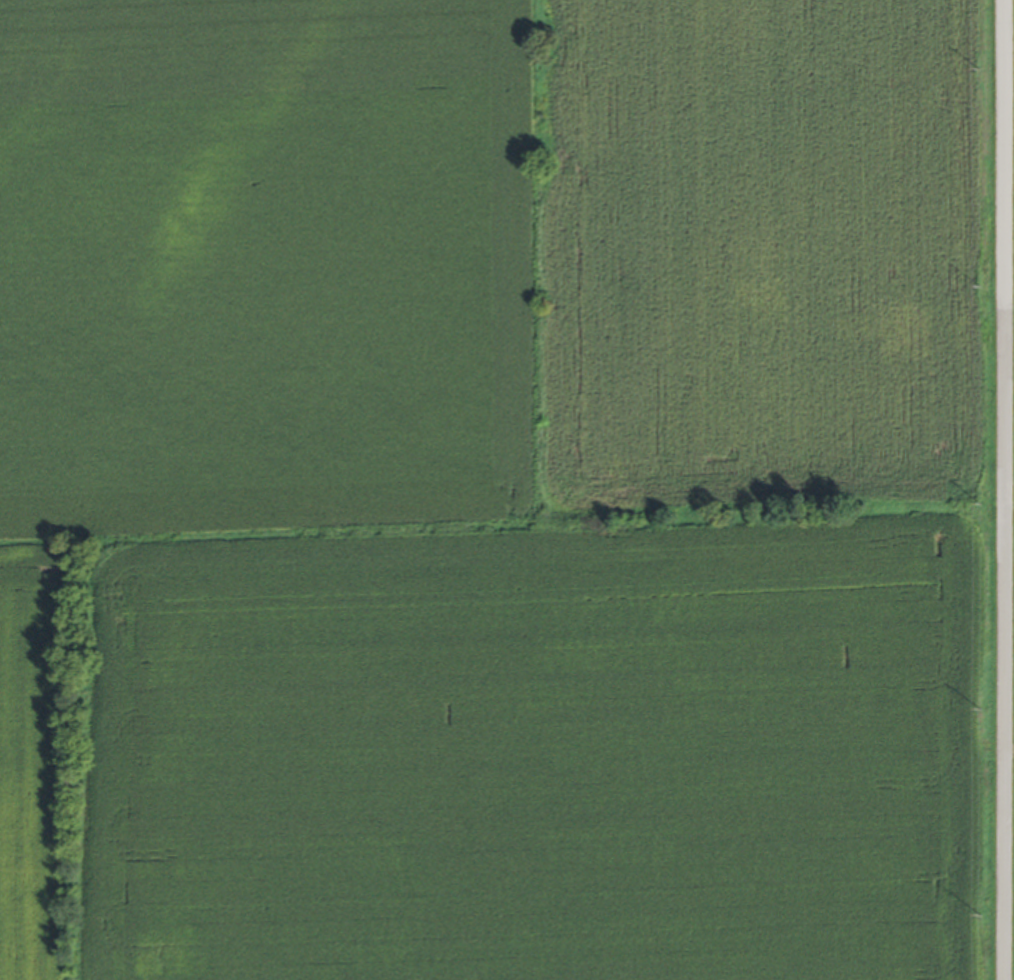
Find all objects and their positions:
road: (1005, 490)

